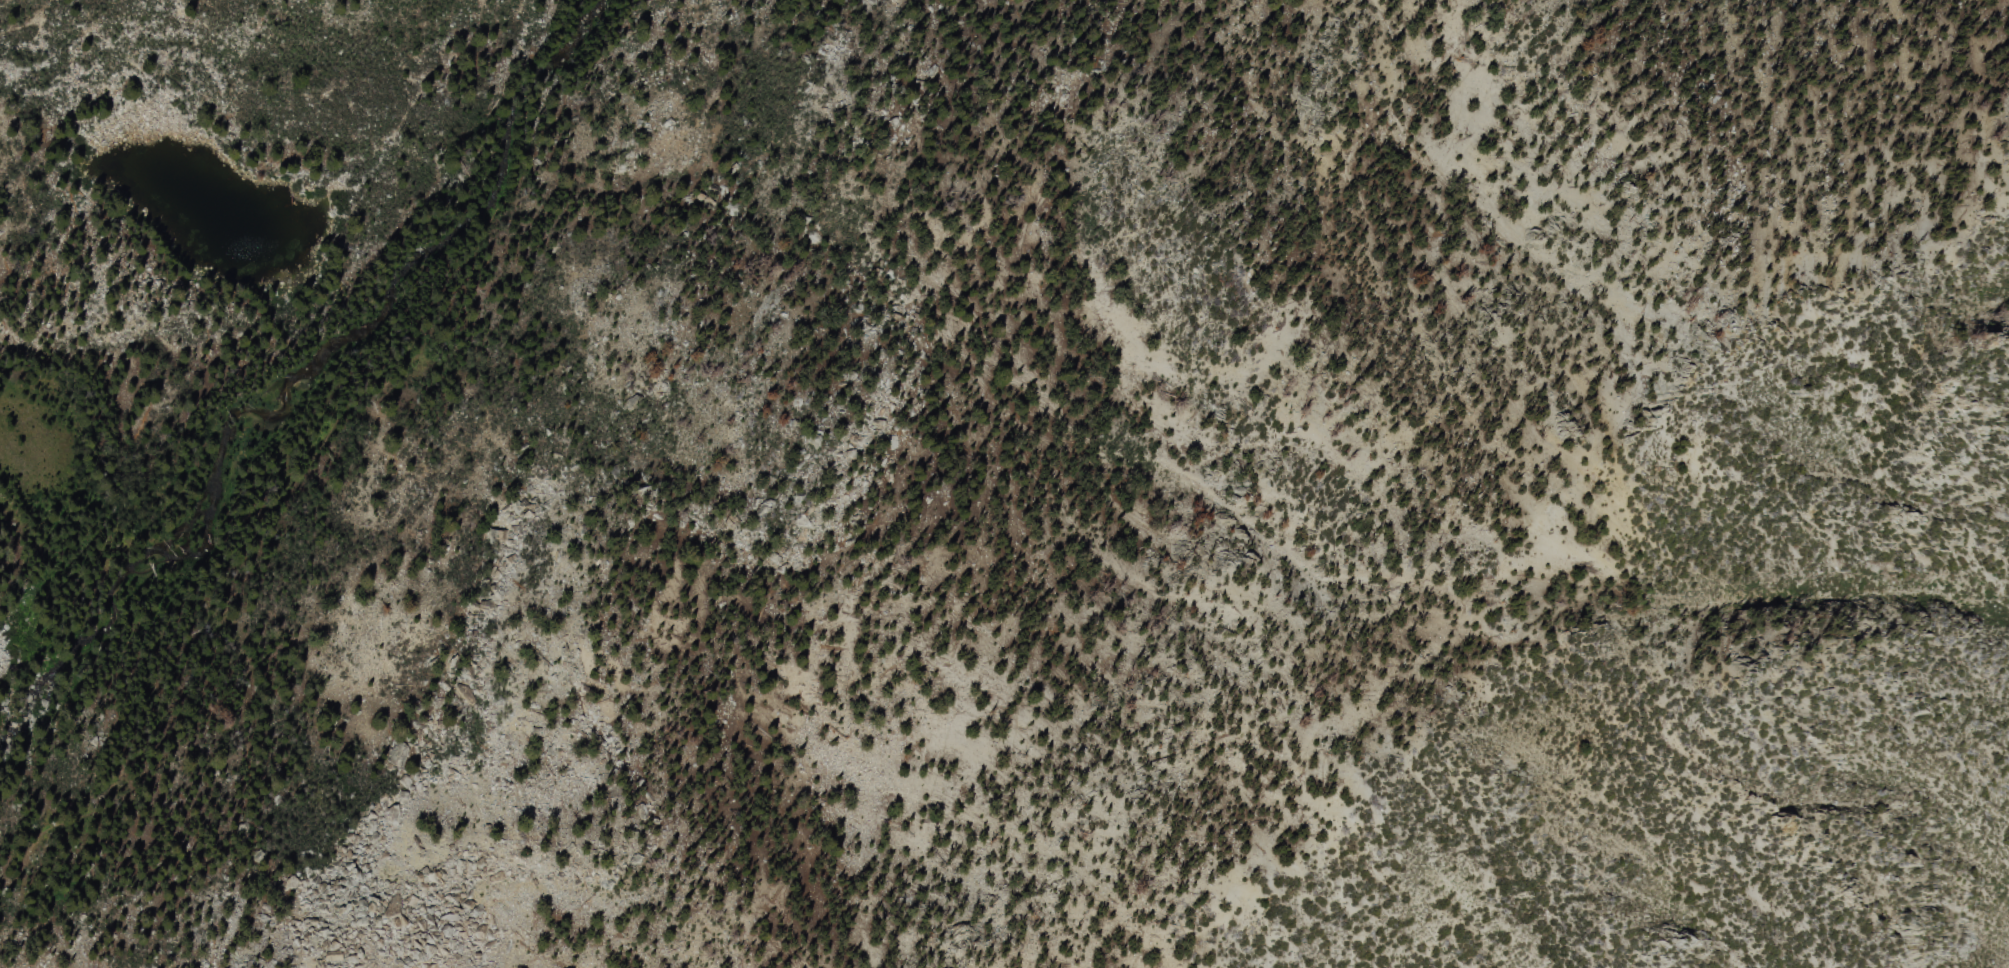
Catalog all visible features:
road: (320, 450)

